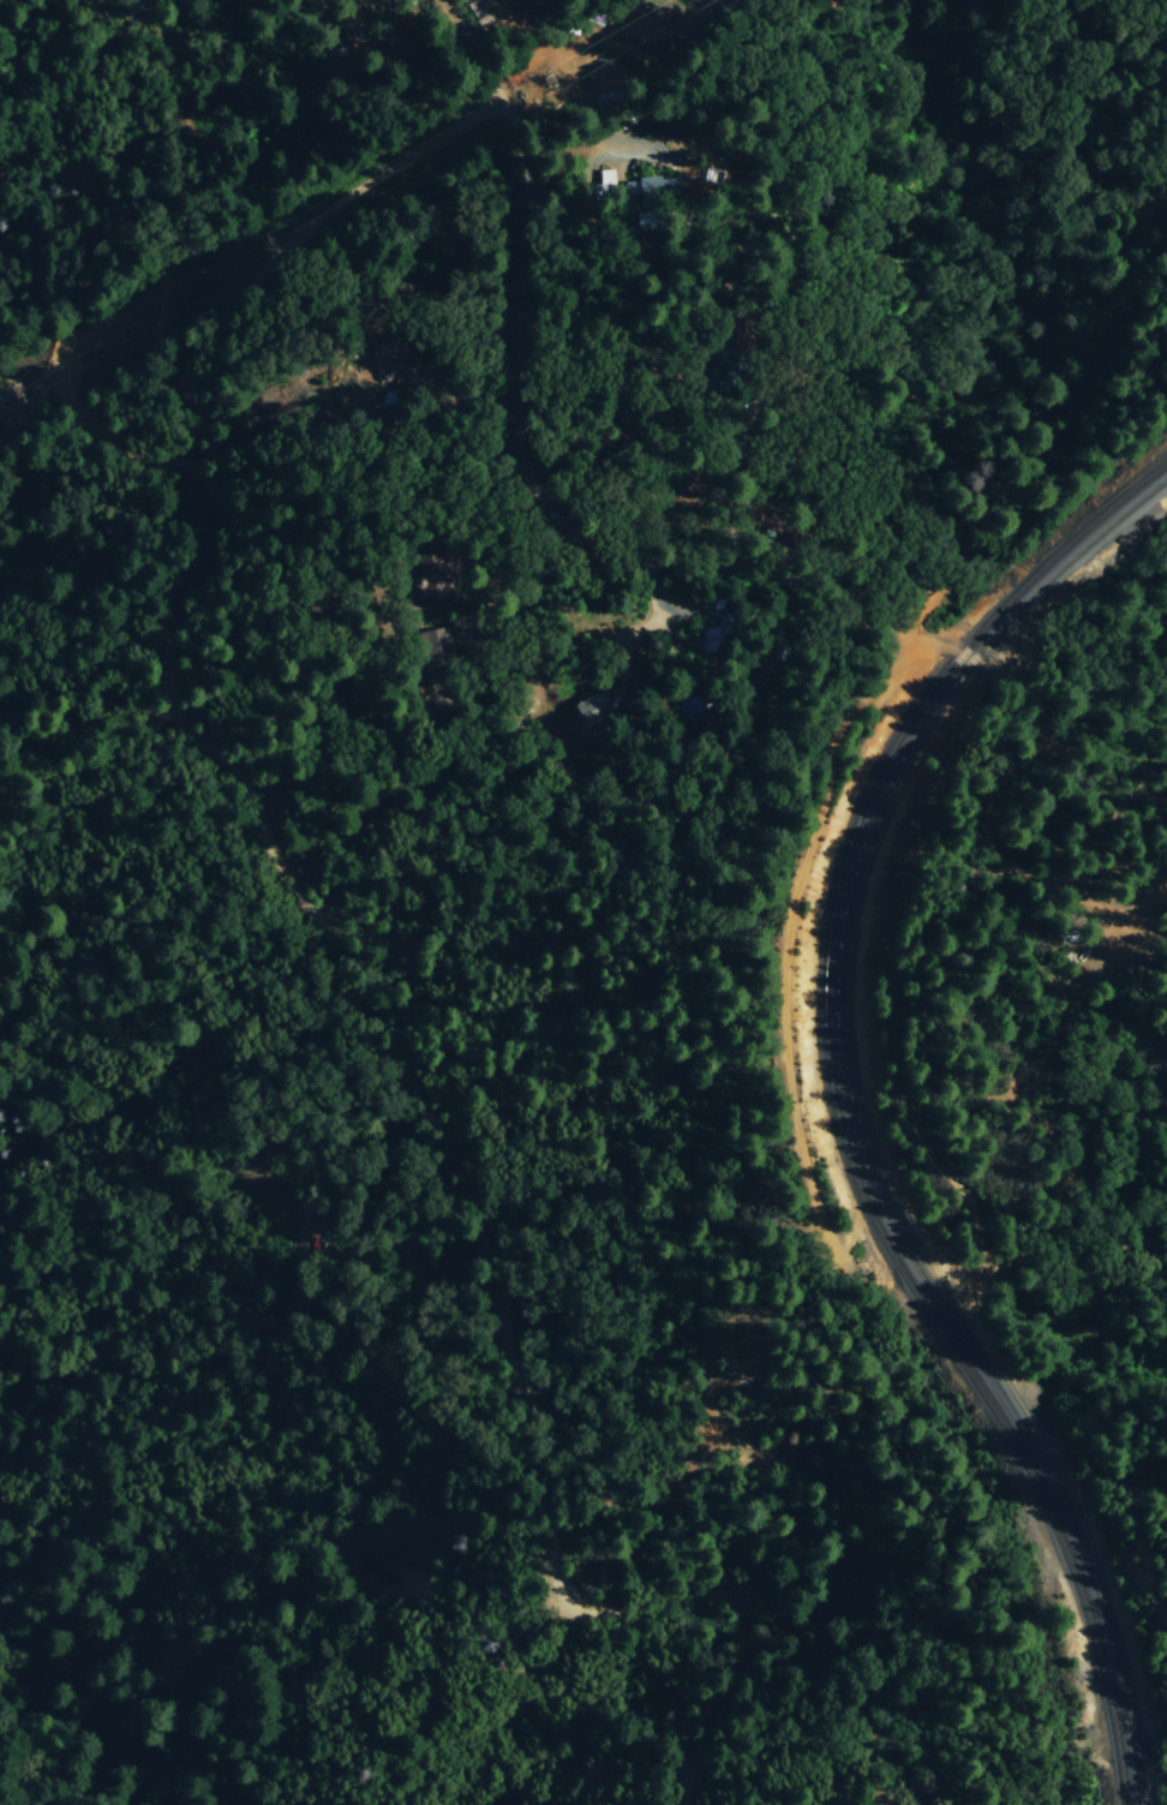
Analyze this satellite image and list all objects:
road: (401, 23)
road: (481, 48)
power tower: (557, 76)
road: (564, 156)
building: (605, 180)
power tower: (277, 245)
road: (471, 311)
building: (390, 363)
road: (596, 383)
power tower: (29, 387)
road: (77, 387)
road: (467, 519)
building: (430, 570)
road: (654, 585)
road: (178, 603)
road: (640, 626)
building: (717, 636)
building: (436, 646)
building: (591, 707)
road: (993, 832)
railway: (849, 1112)
railway: (866, 1123)

